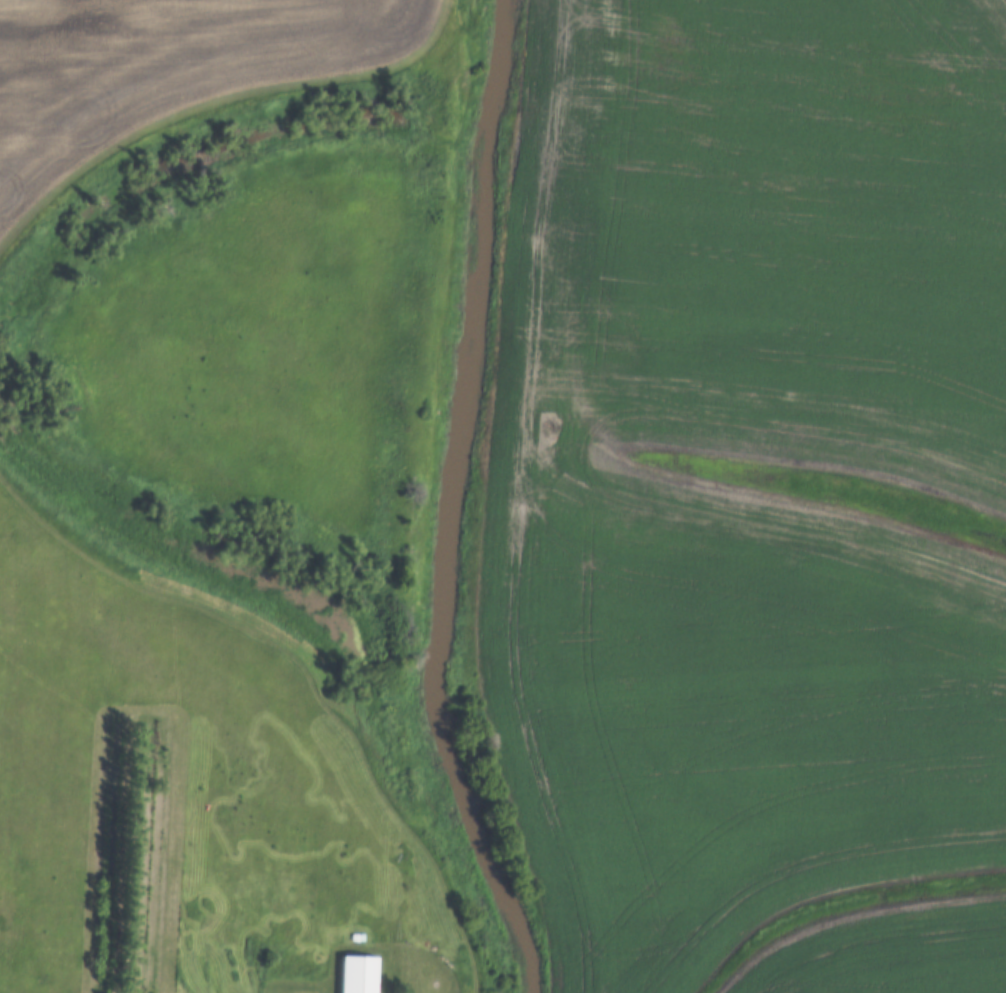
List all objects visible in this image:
crop: (166, 70)
crop: (613, 500)
building: (357, 940)
crop: (885, 947)
building: (360, 973)

